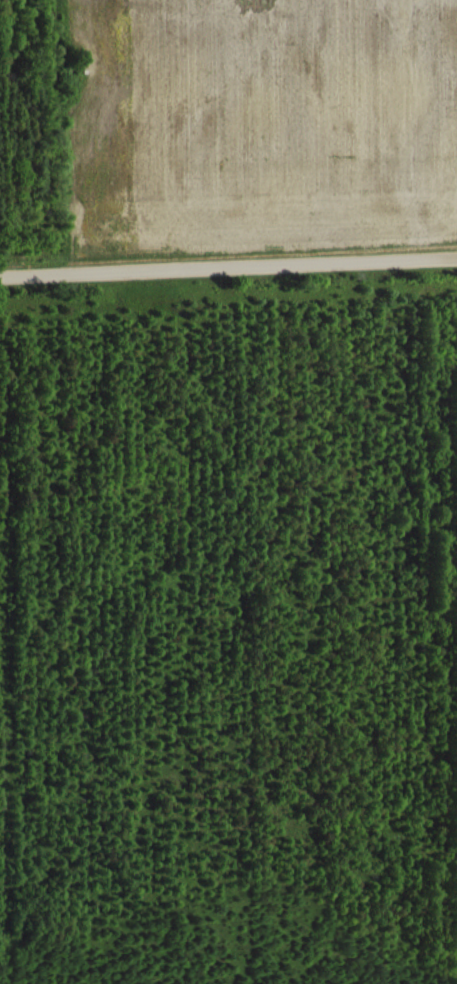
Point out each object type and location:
road: (228, 268)

